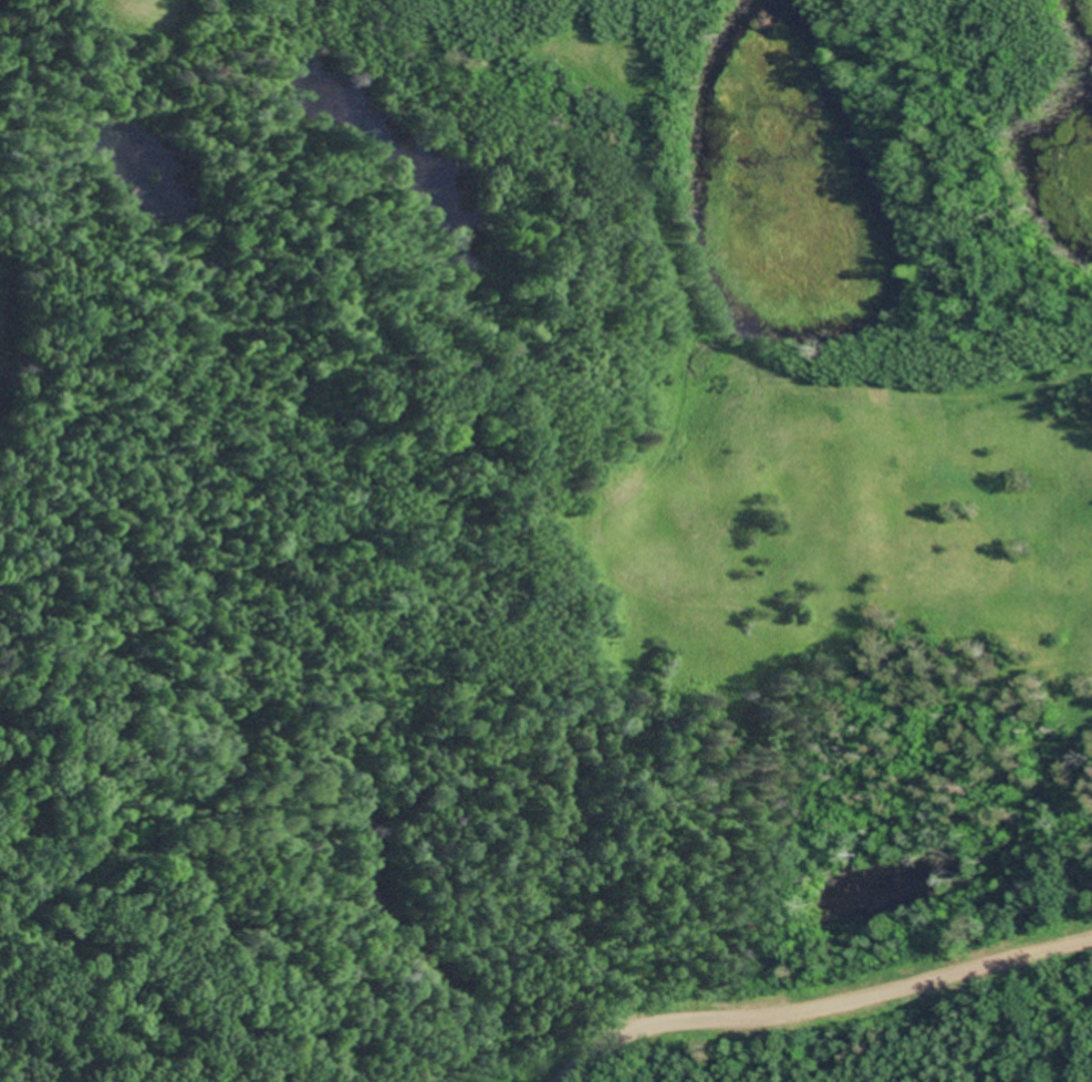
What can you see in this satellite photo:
road: (824, 1008)

